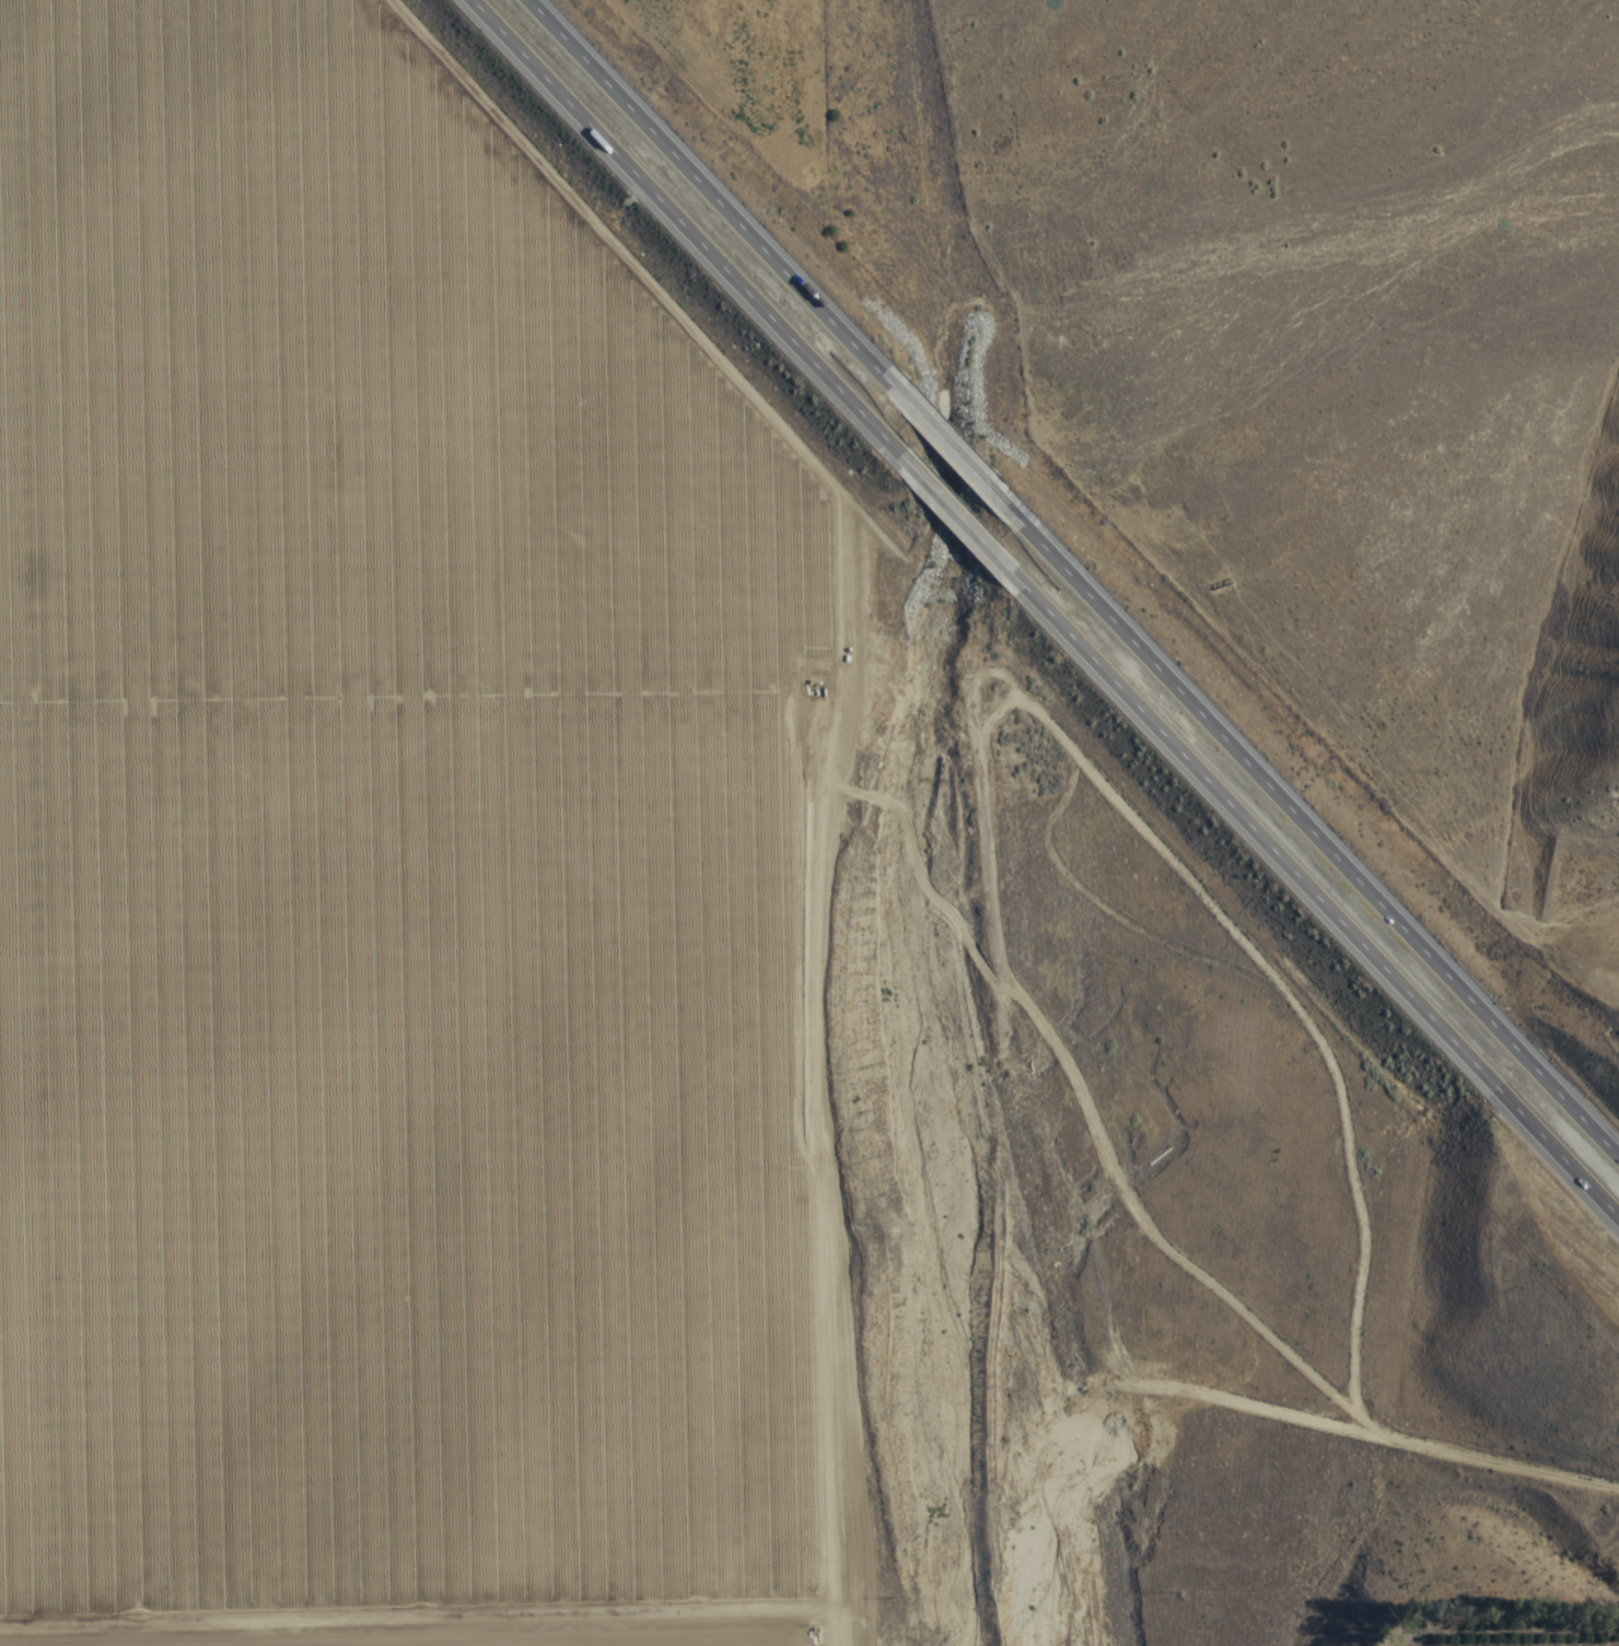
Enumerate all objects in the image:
road: (714, 187)
road: (673, 223)
road: (955, 446)
road: (945, 510)
road: (927, 820)
road: (1319, 833)
crop: (395, 874)
road: (1312, 899)
road: (1296, 1508)
crop: (1479, 1606)

